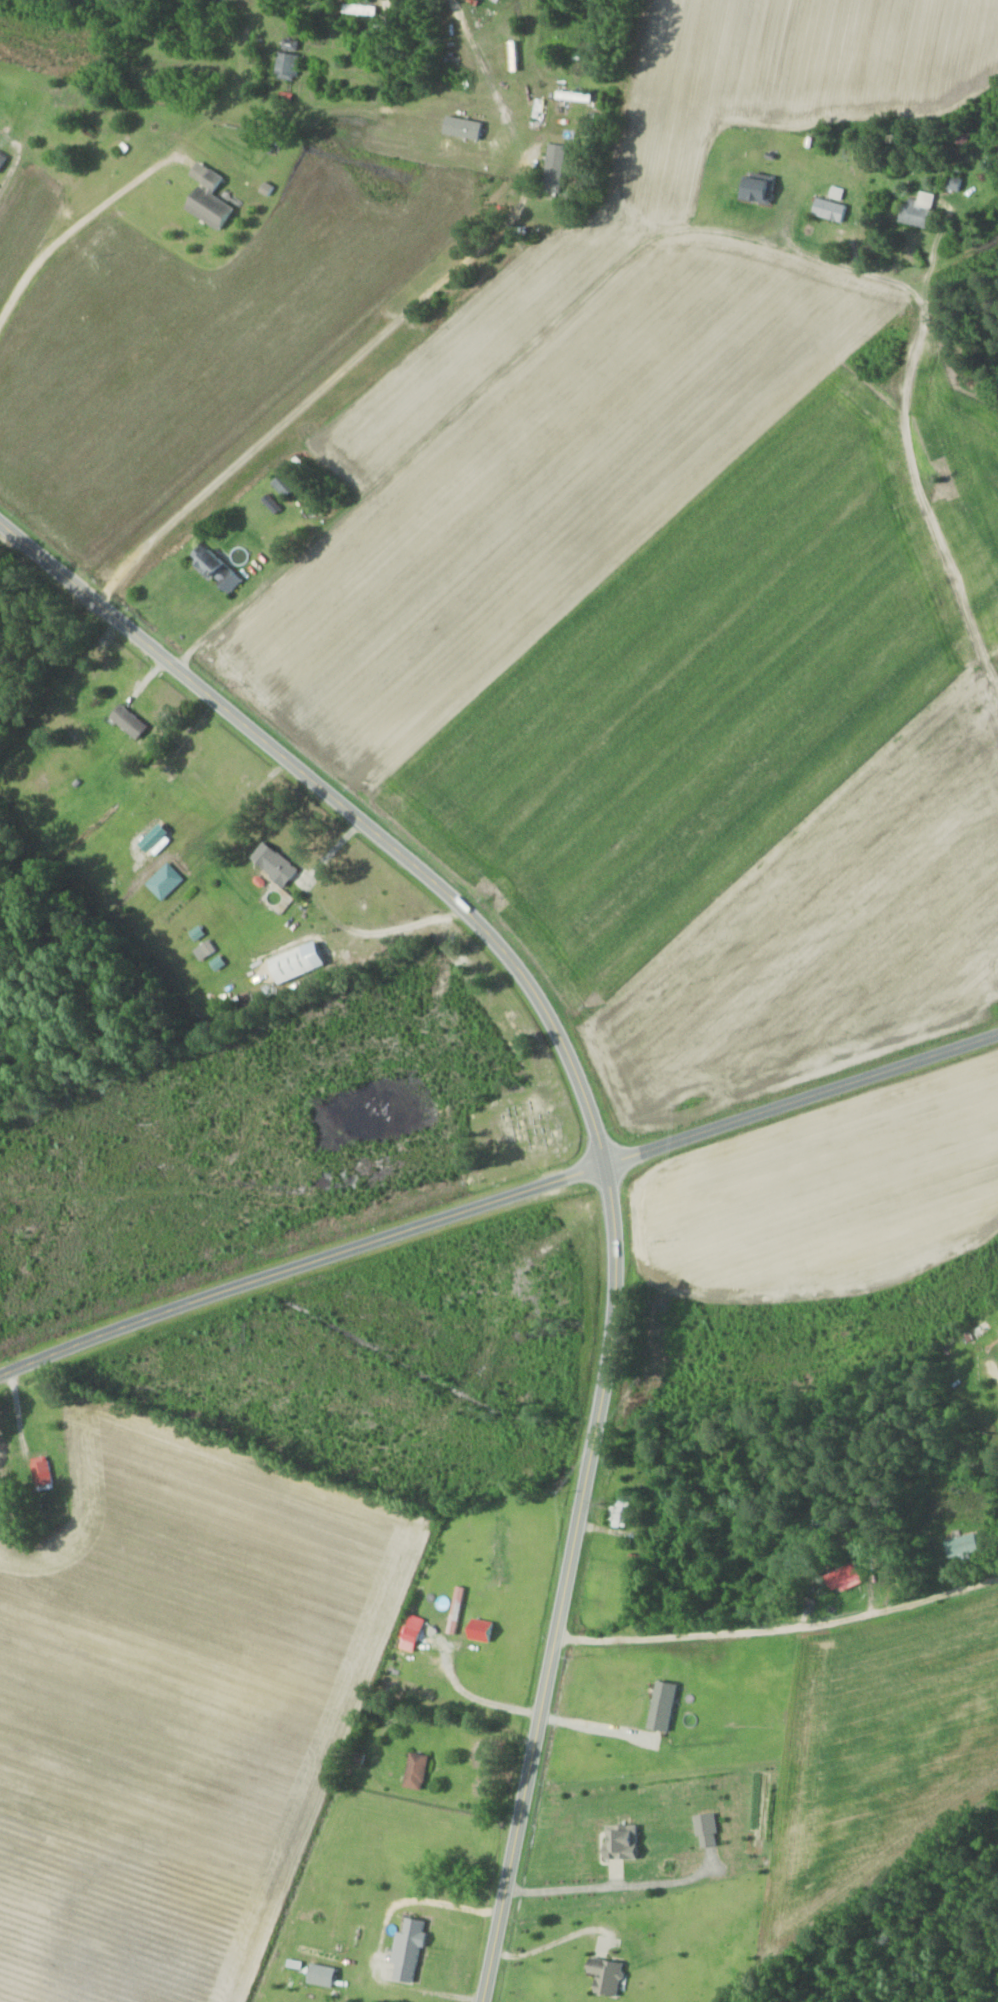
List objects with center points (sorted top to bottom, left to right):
building: (362, 9)
building: (295, 44)
building: (292, 65)
building: (578, 95)
building: (4, 158)
road: (10, 167)
building: (558, 167)
building: (950, 182)
building: (756, 188)
building: (215, 197)
building: (826, 209)
building: (919, 211)
road: (567, 215)
building: (289, 483)
road: (949, 569)
building: (225, 570)
building: (133, 721)
building: (194, 797)
building: (279, 863)
building: (303, 961)
park: (513, 1128)
road: (598, 1139)
road: (497, 1198)
building: (997, 1343)
building: (44, 1471)
building: (612, 1512)
building: (956, 1545)
road: (781, 1623)
building: (422, 1770)
building: (615, 1842)
building: (414, 1948)
building: (610, 1974)

